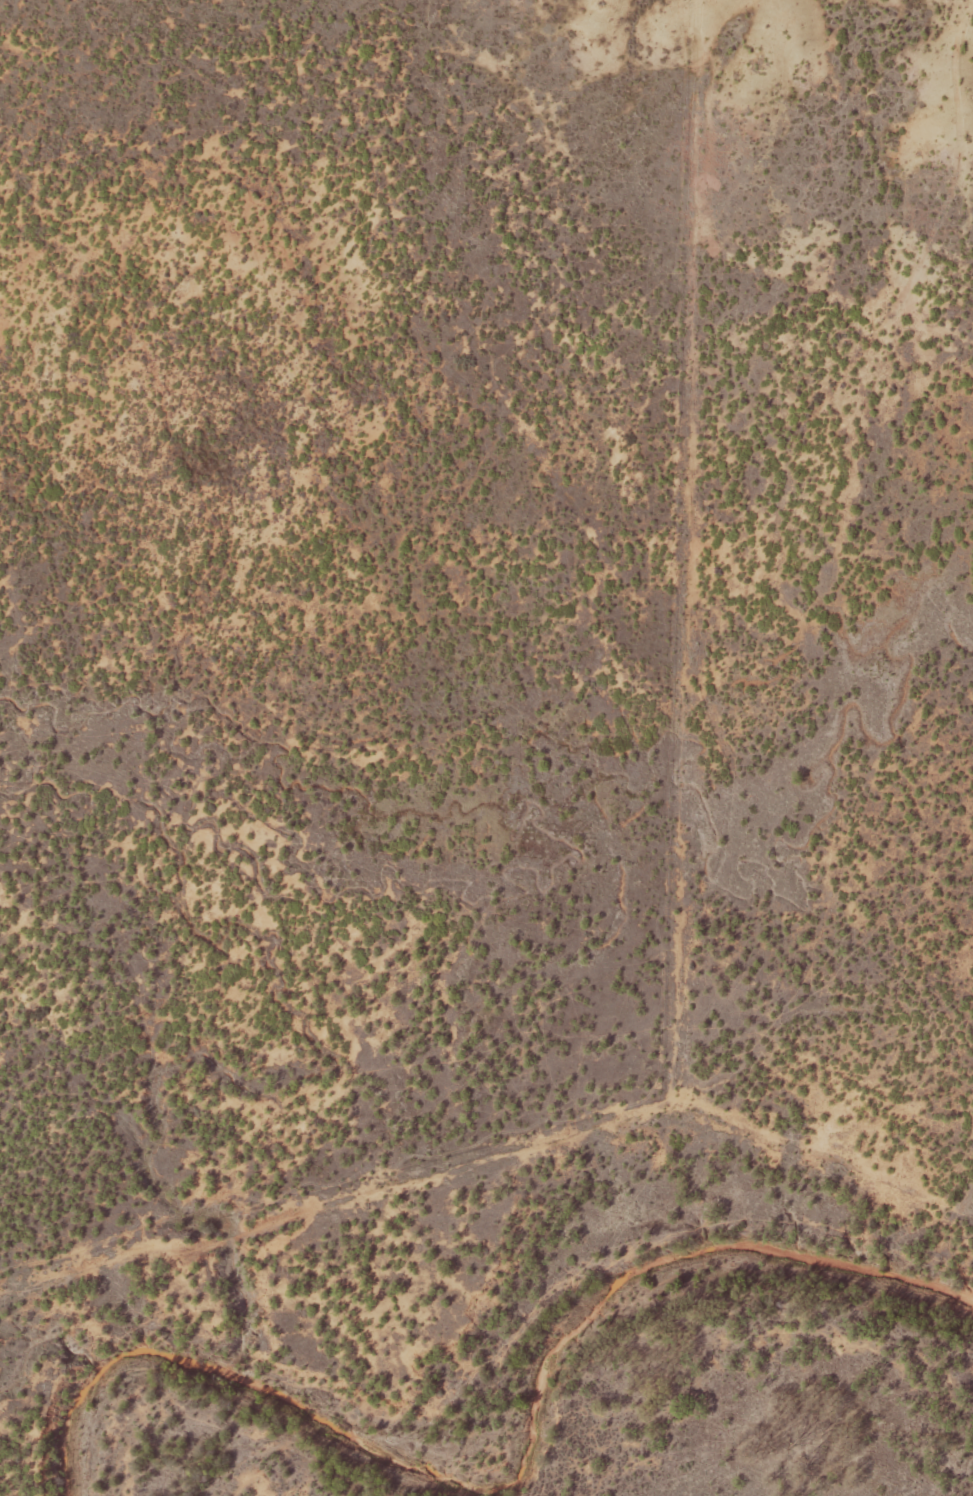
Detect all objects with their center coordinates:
road: (679, 634)
river: (522, 1452)

